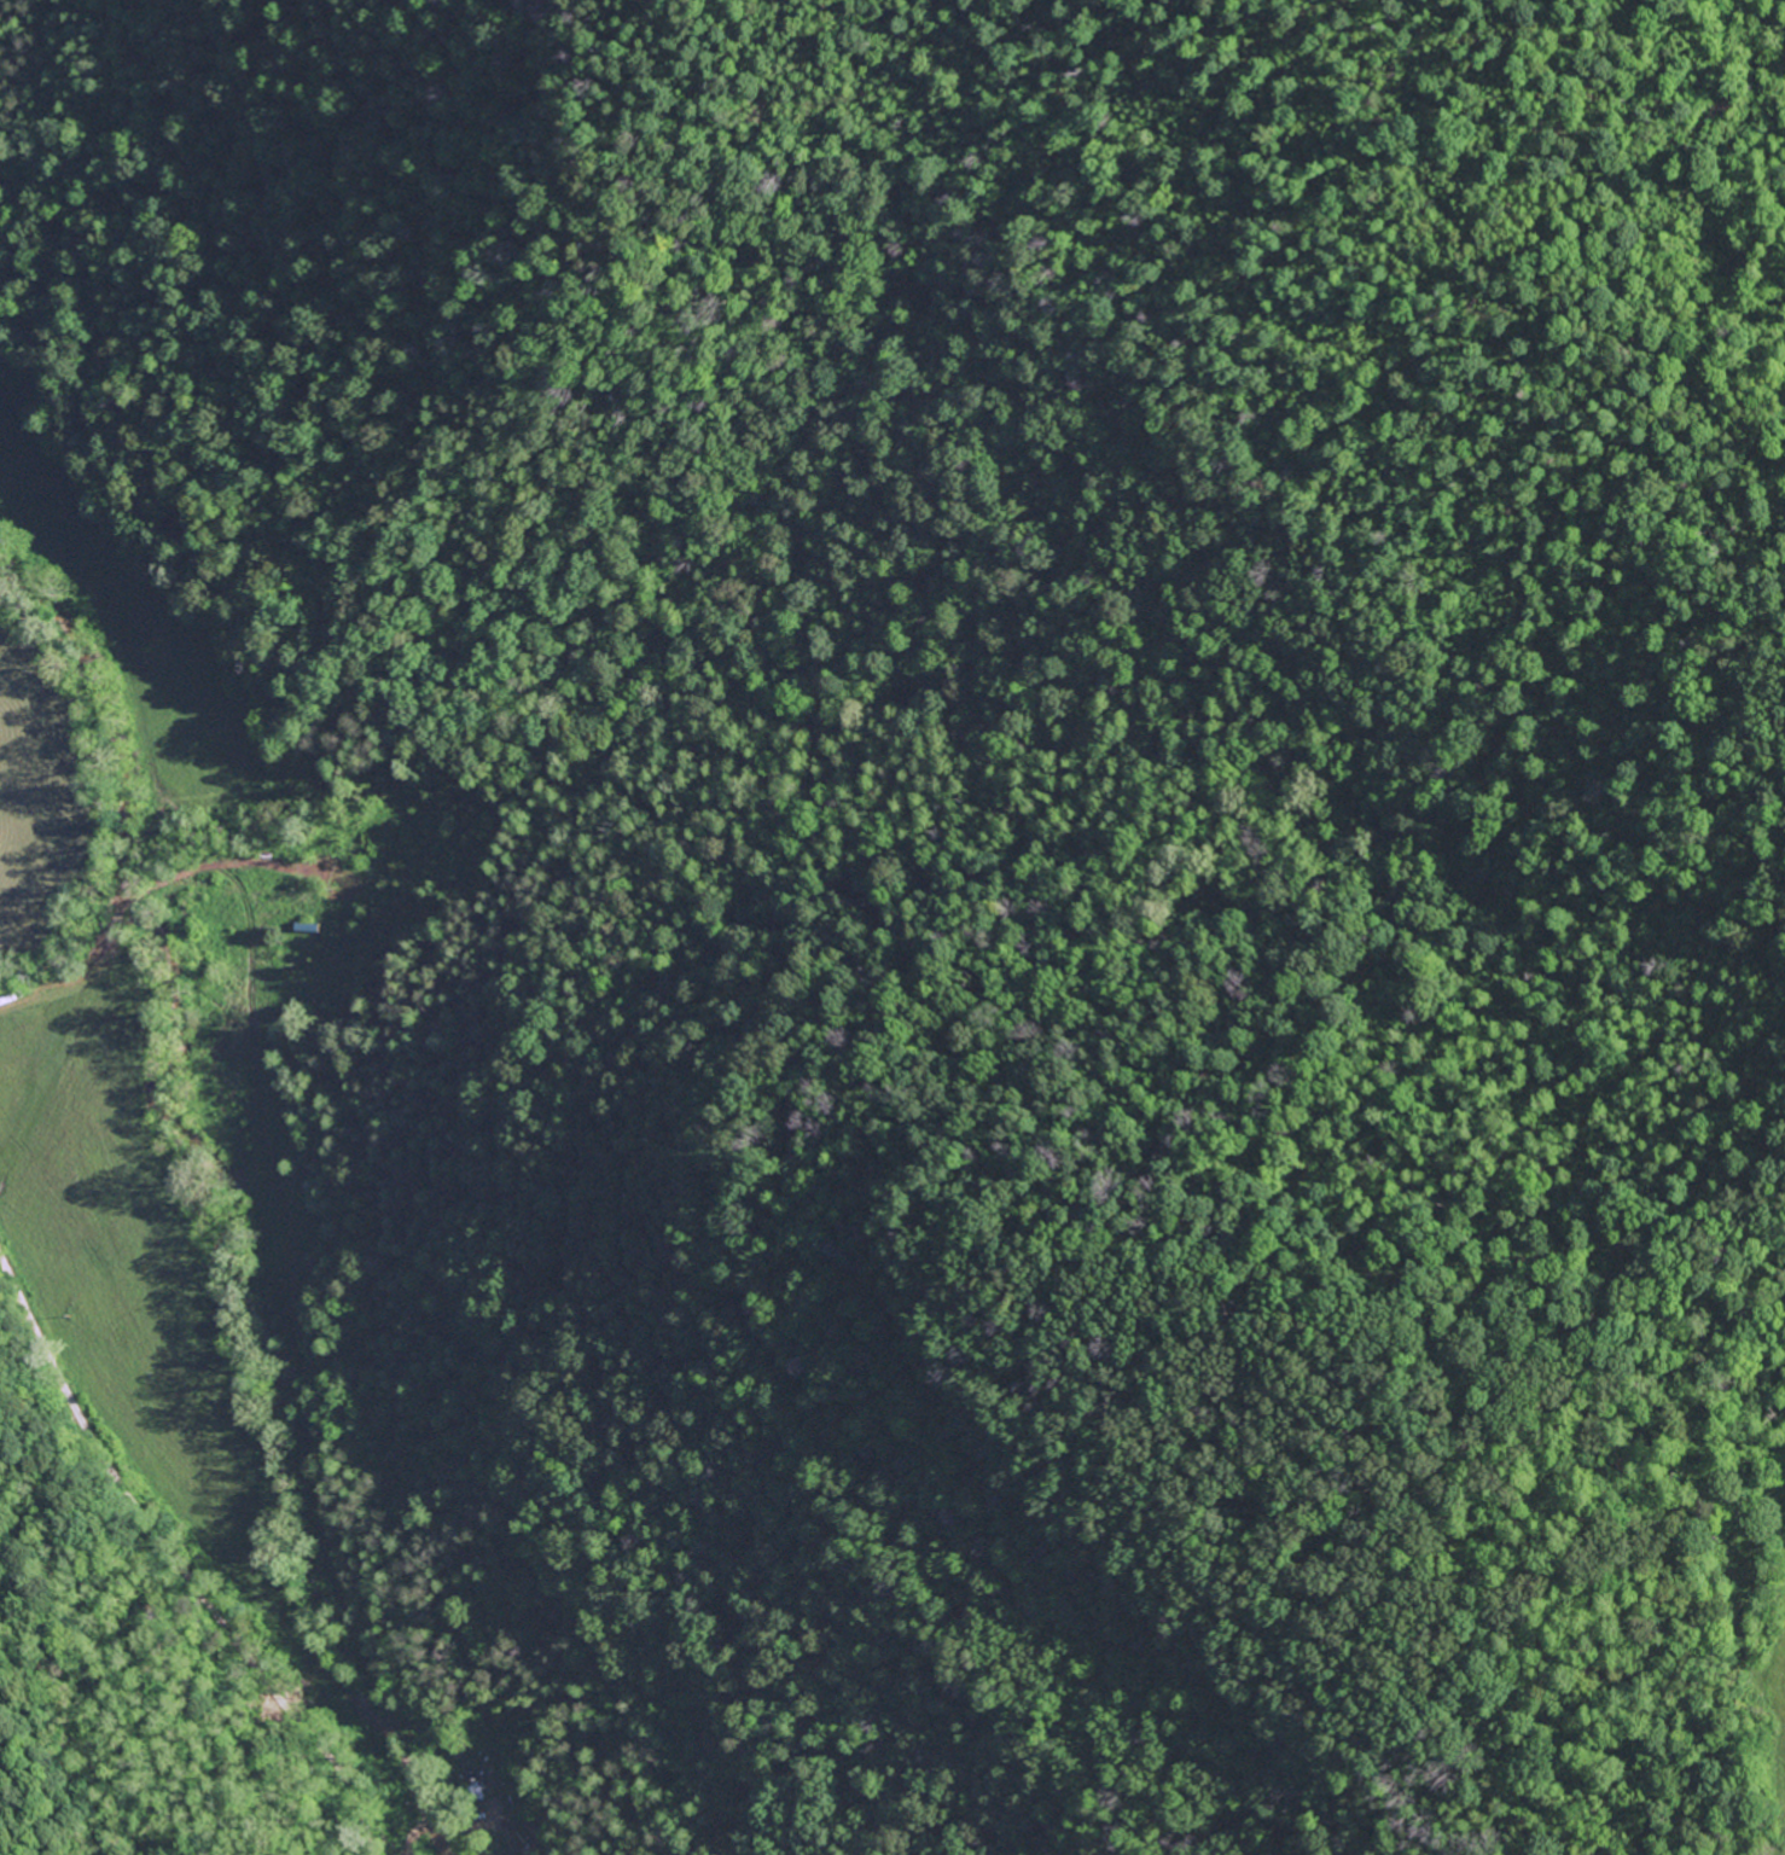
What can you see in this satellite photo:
road: (88, 1436)
road: (293, 1711)

